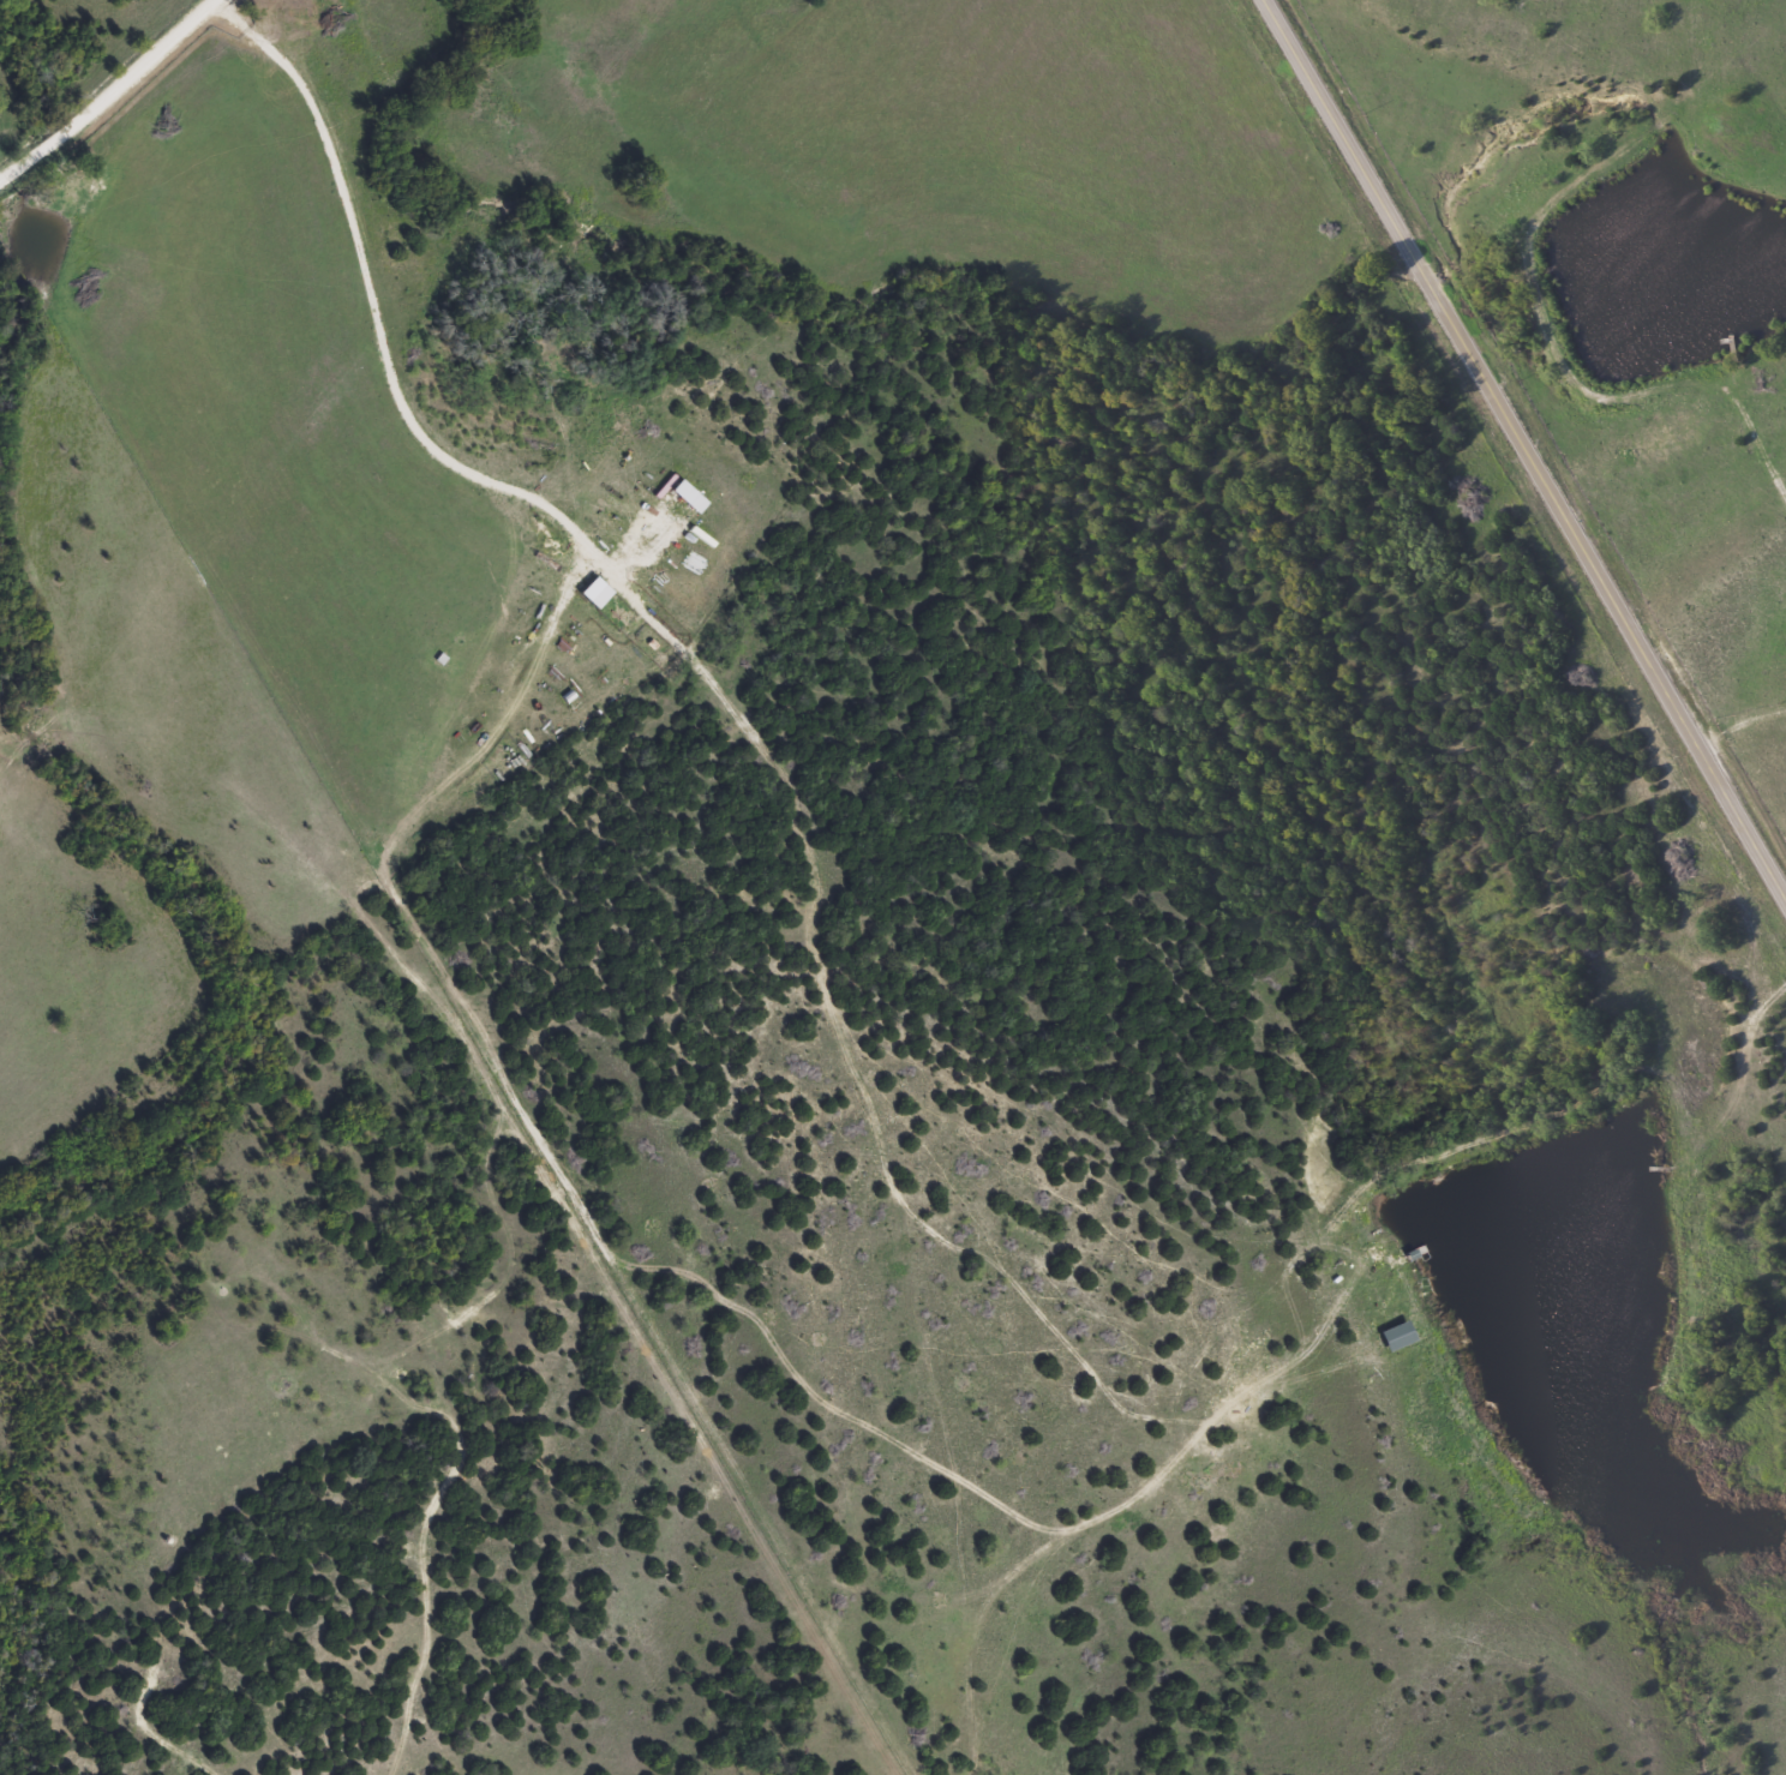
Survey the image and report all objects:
road: (114, 98)
road: (1530, 438)

